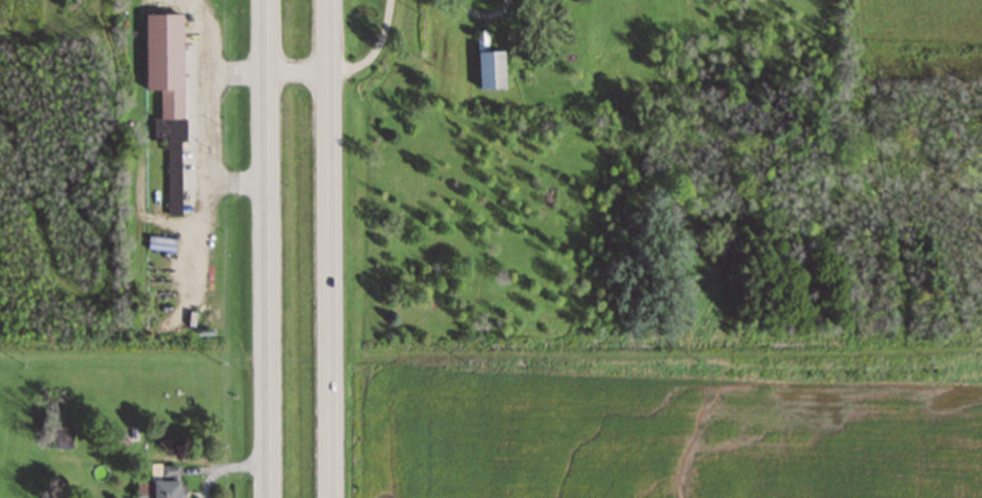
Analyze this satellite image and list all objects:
building: (491, 70)
building: (165, 111)
road: (270, 248)
road: (326, 249)
building: (59, 435)
building: (165, 484)

